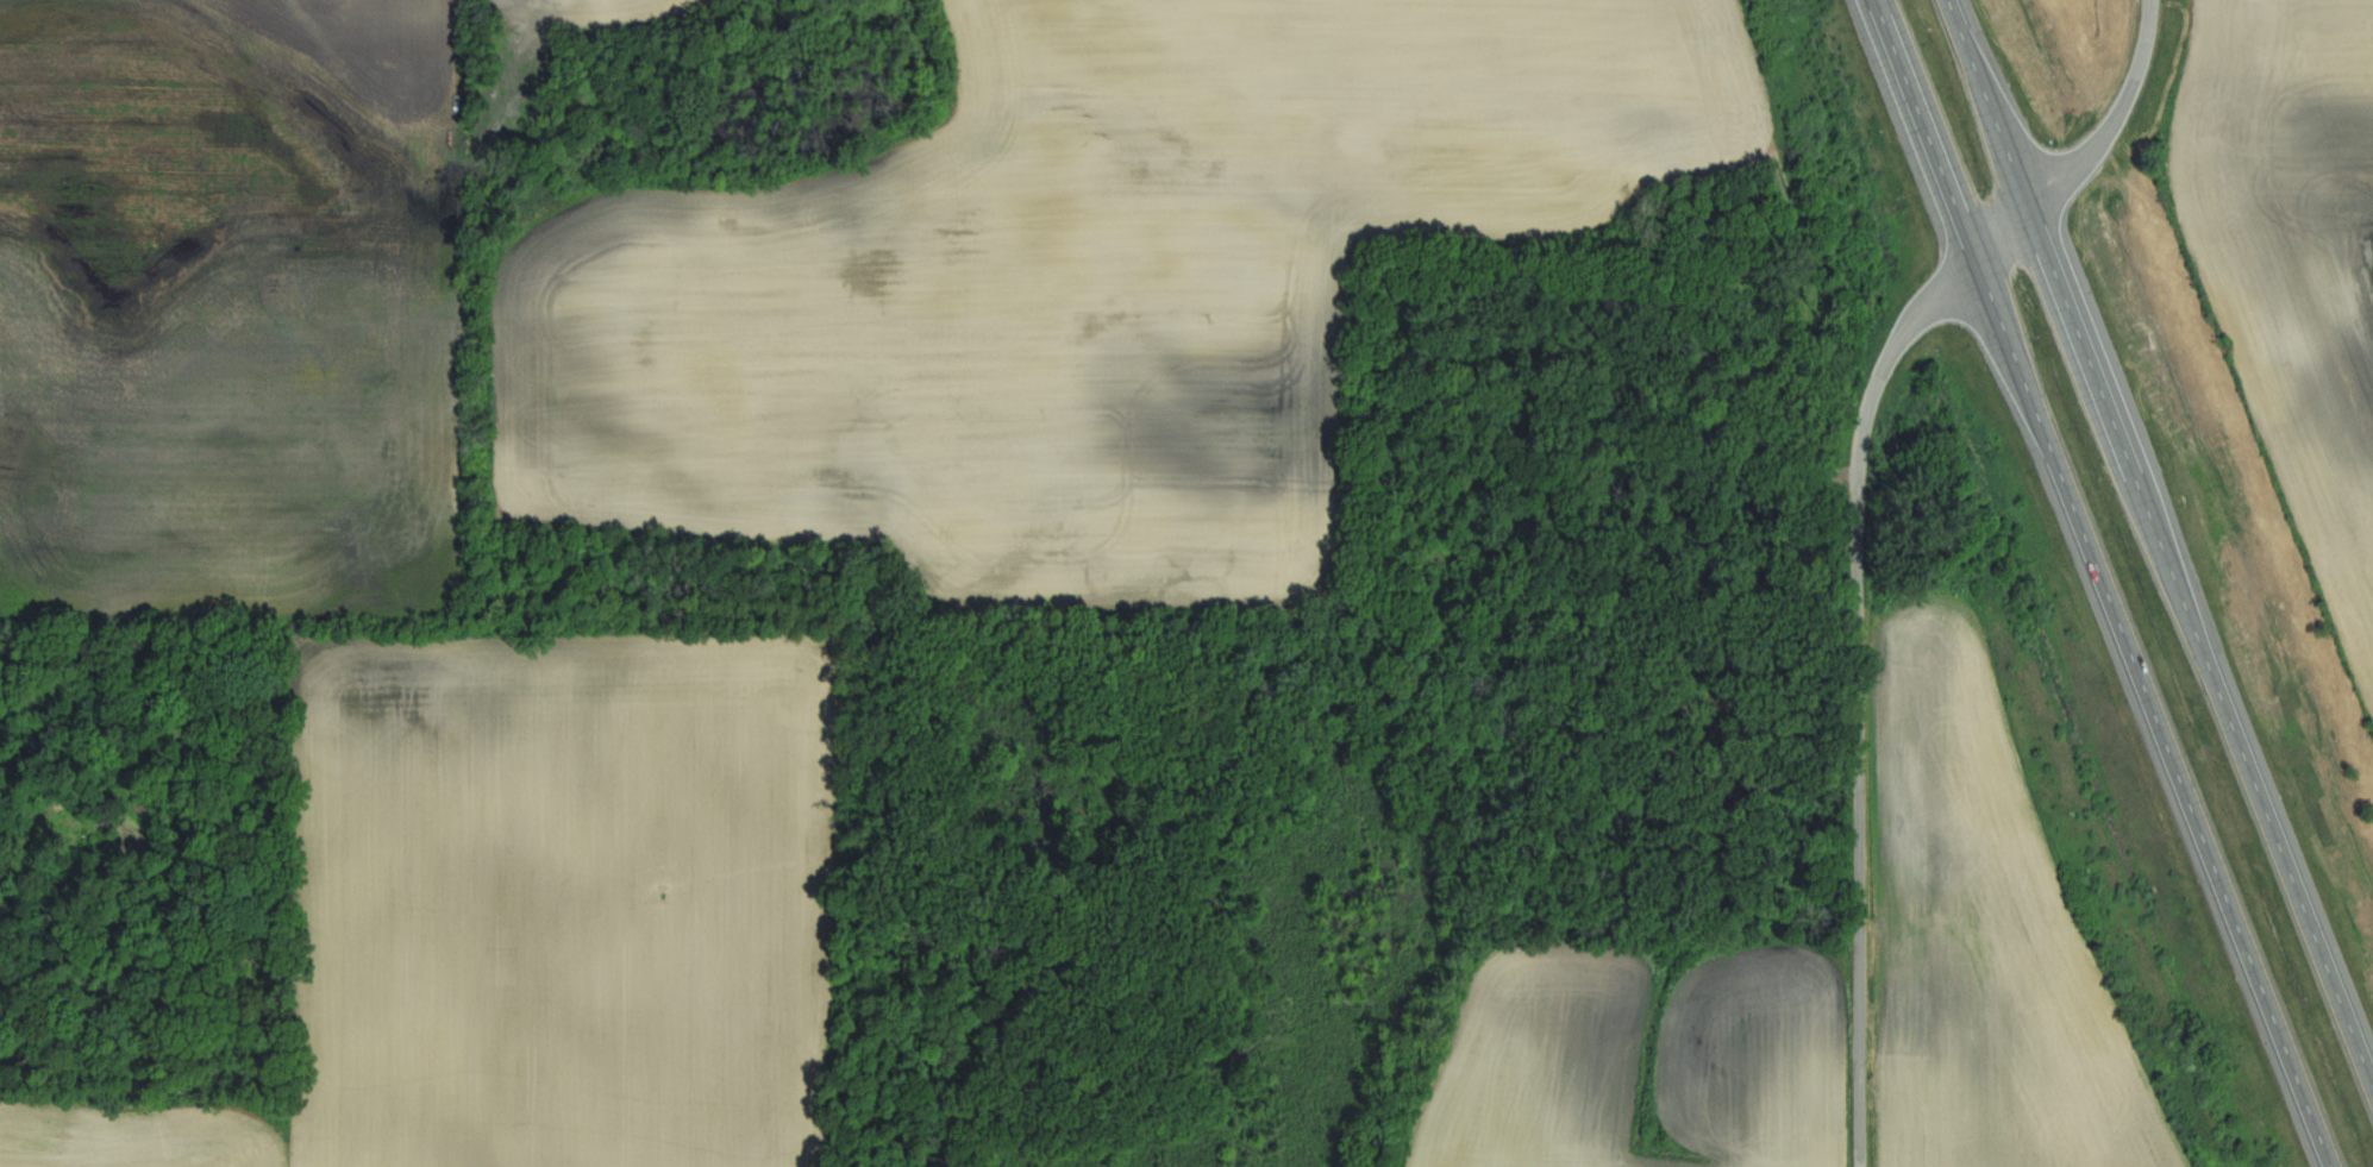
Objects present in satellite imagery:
road: (1857, 531)
road: (2161, 541)
road: (2103, 583)

